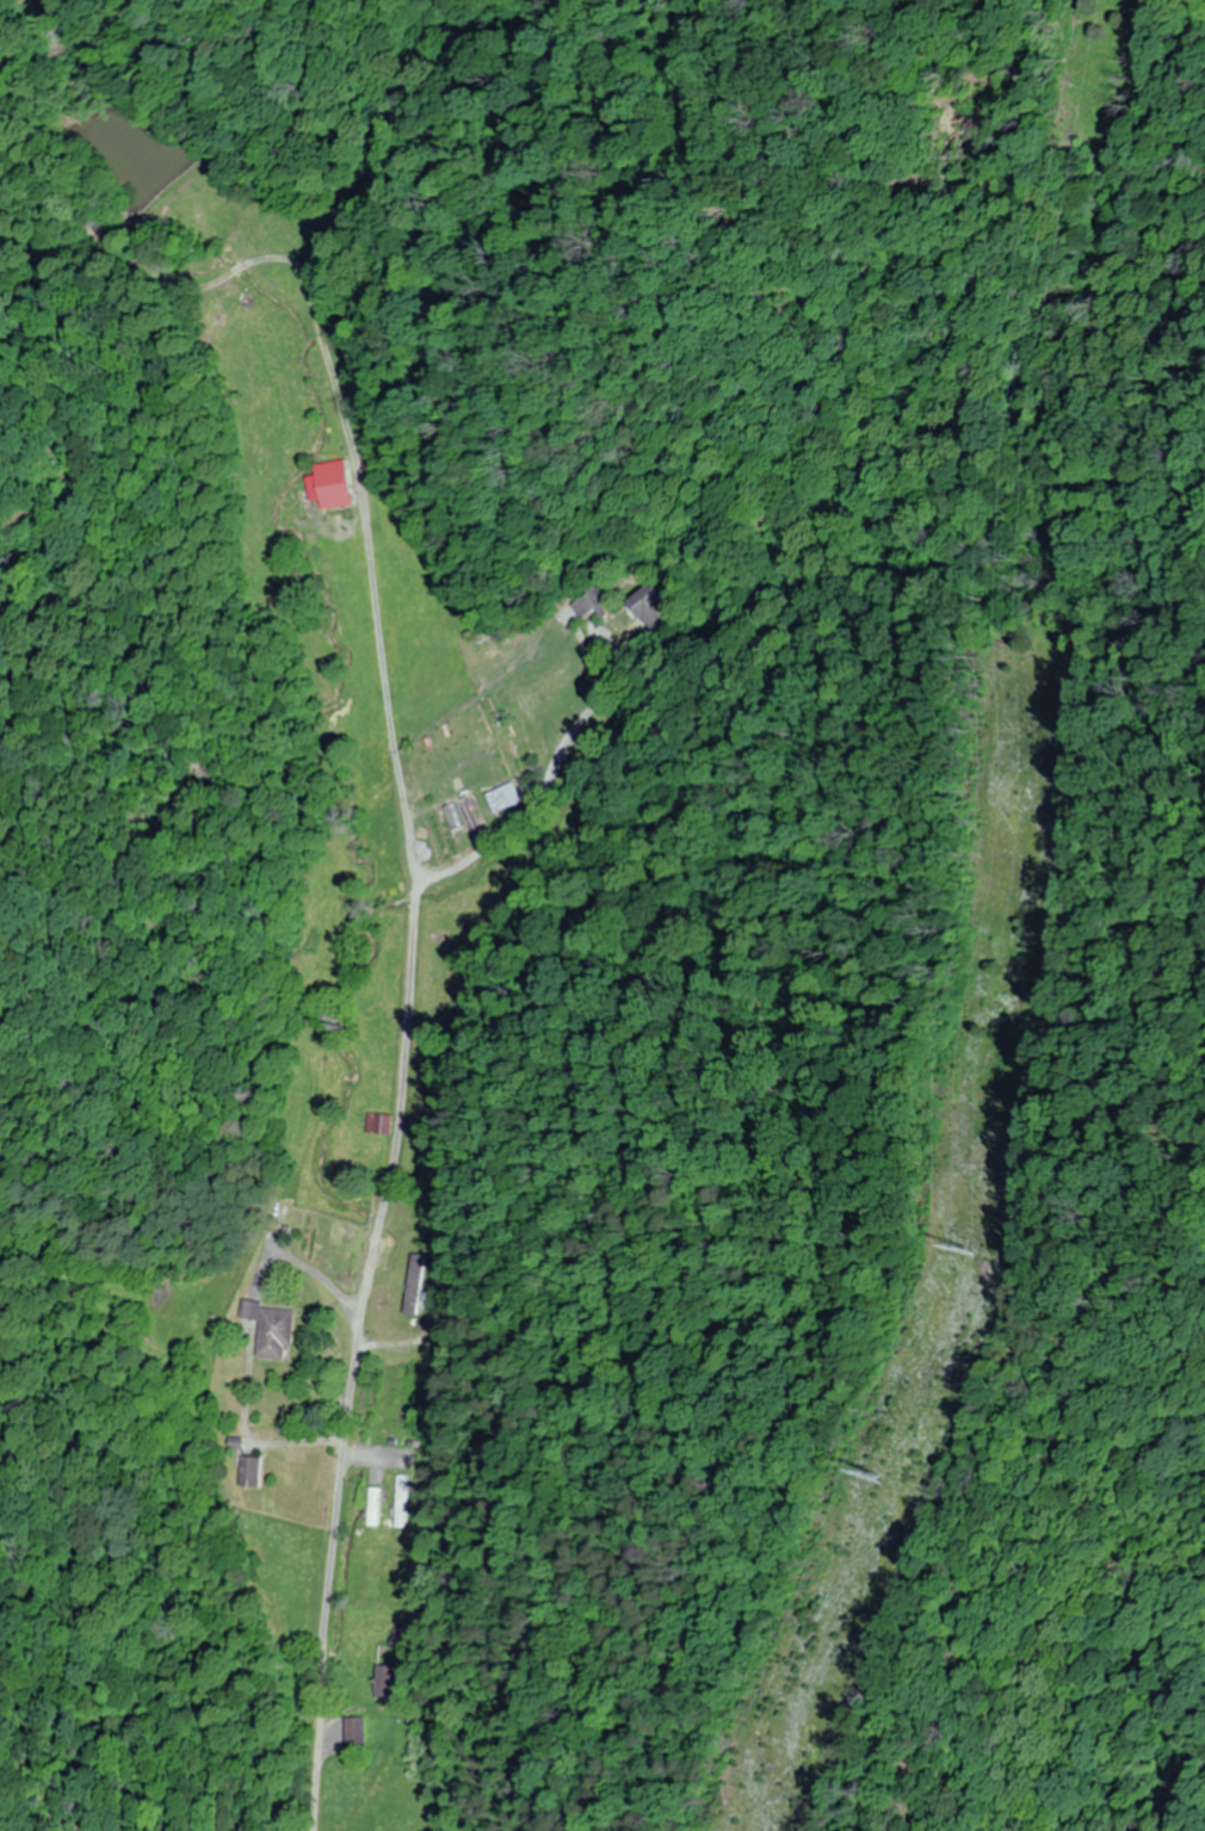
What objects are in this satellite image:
building: (586, 602)
building: (659, 610)
building: (505, 798)
building: (377, 1125)
power tower: (970, 1245)
building: (413, 1285)
building: (272, 1329)
building: (251, 1471)
power tower: (865, 1471)
building: (402, 1502)
road: (339, 1504)
building: (373, 1505)
building: (388, 1678)
building: (353, 1730)

